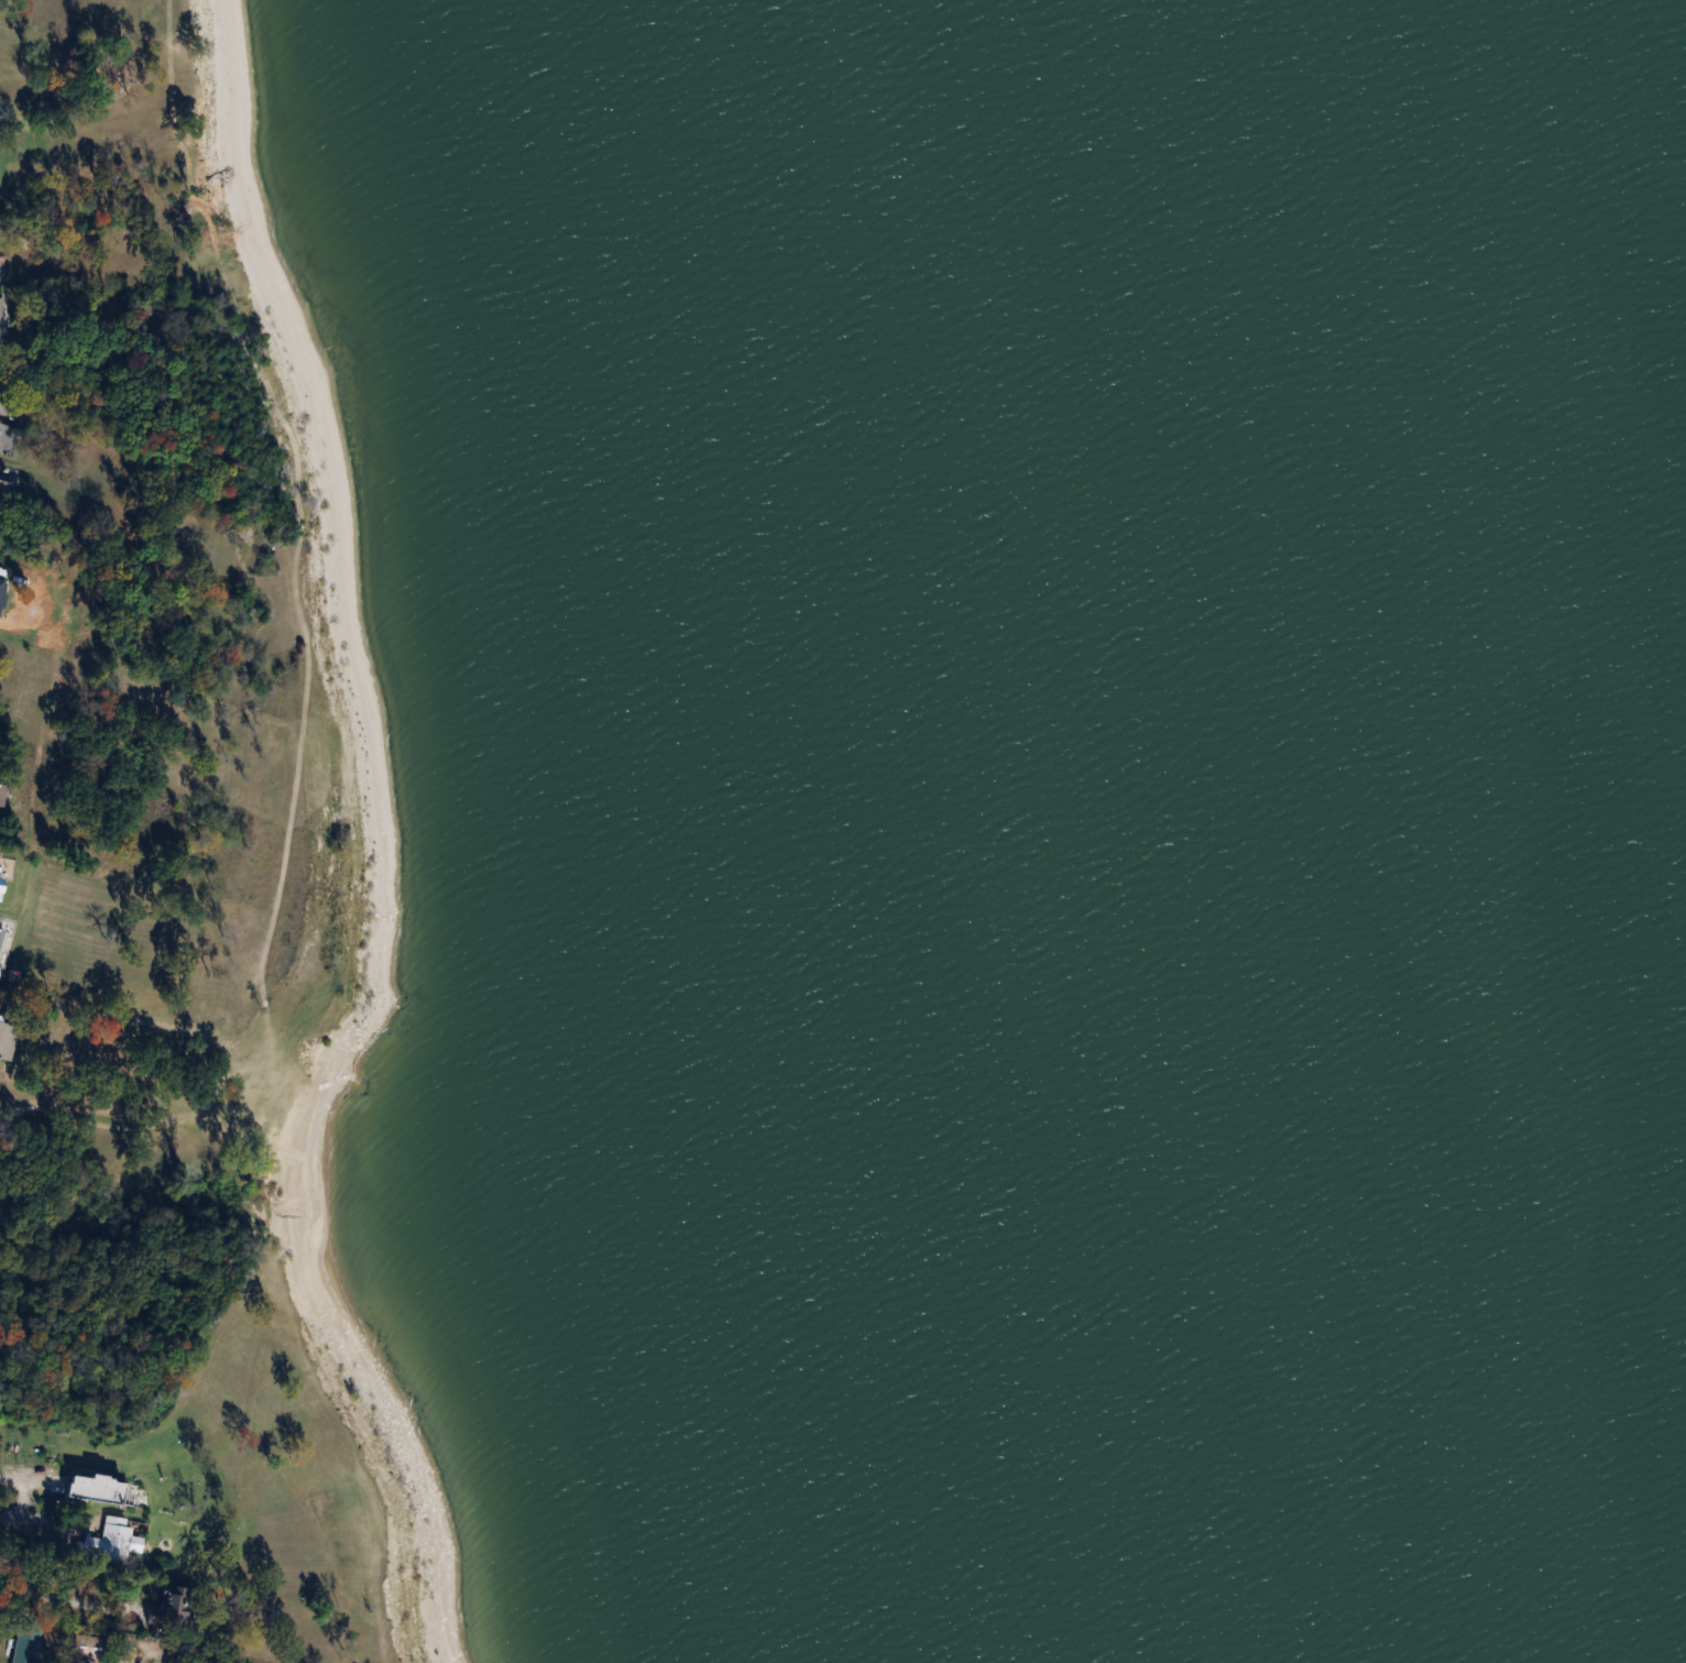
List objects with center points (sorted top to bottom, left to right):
building: (1, 315)
building: (2, 390)
building: (3, 435)
building: (2, 478)
building: (0, 792)
building: (7, 1036)
building: (99, 1487)
road: (24, 1496)
building: (113, 1536)
building: (176, 1607)
building: (28, 1641)

